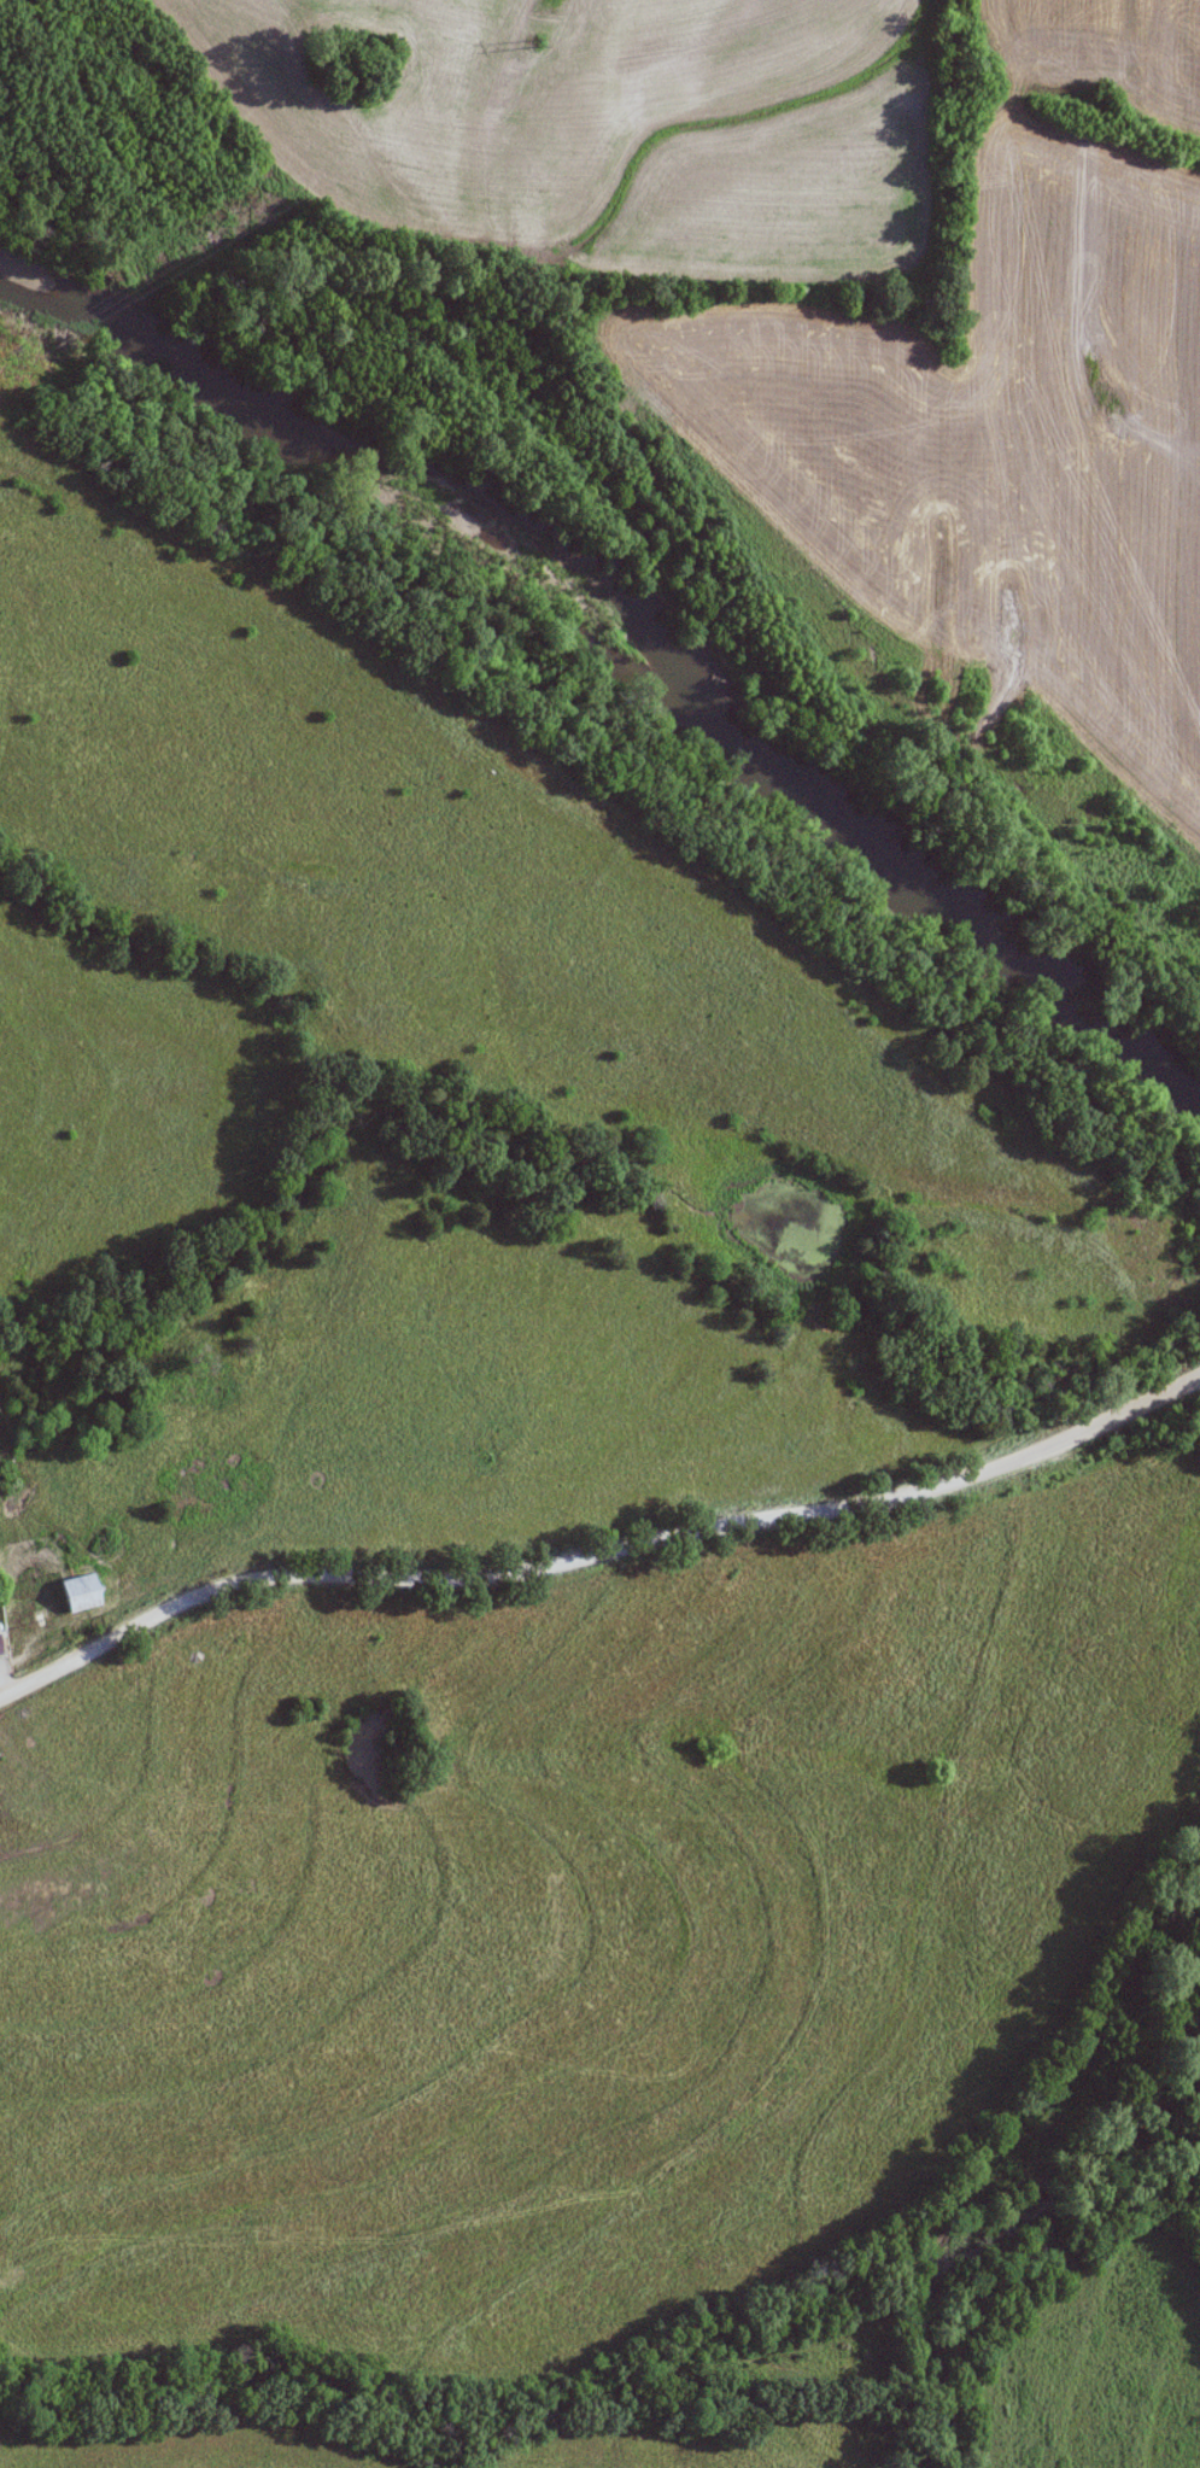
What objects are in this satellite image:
crop: (601, 127)
river: (645, 620)
road: (599, 1554)
building: (76, 1595)

